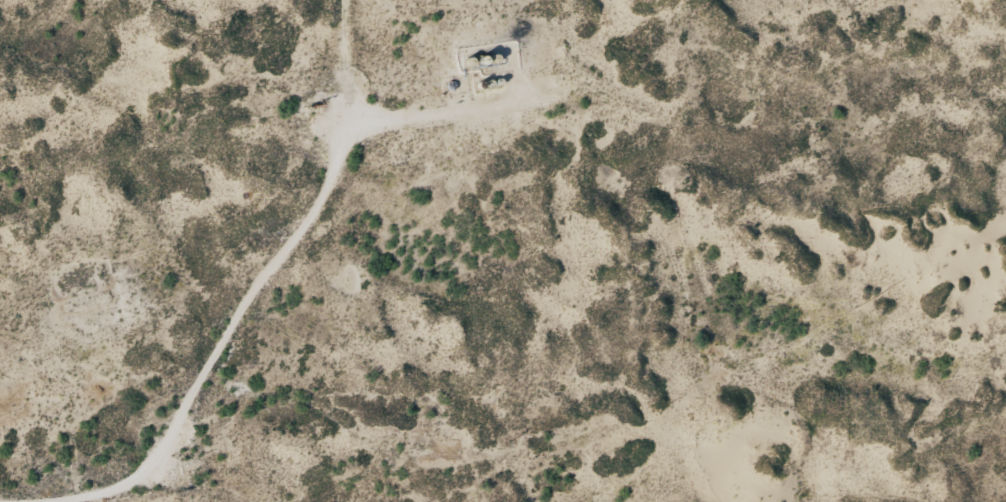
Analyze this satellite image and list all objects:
road: (313, 276)

